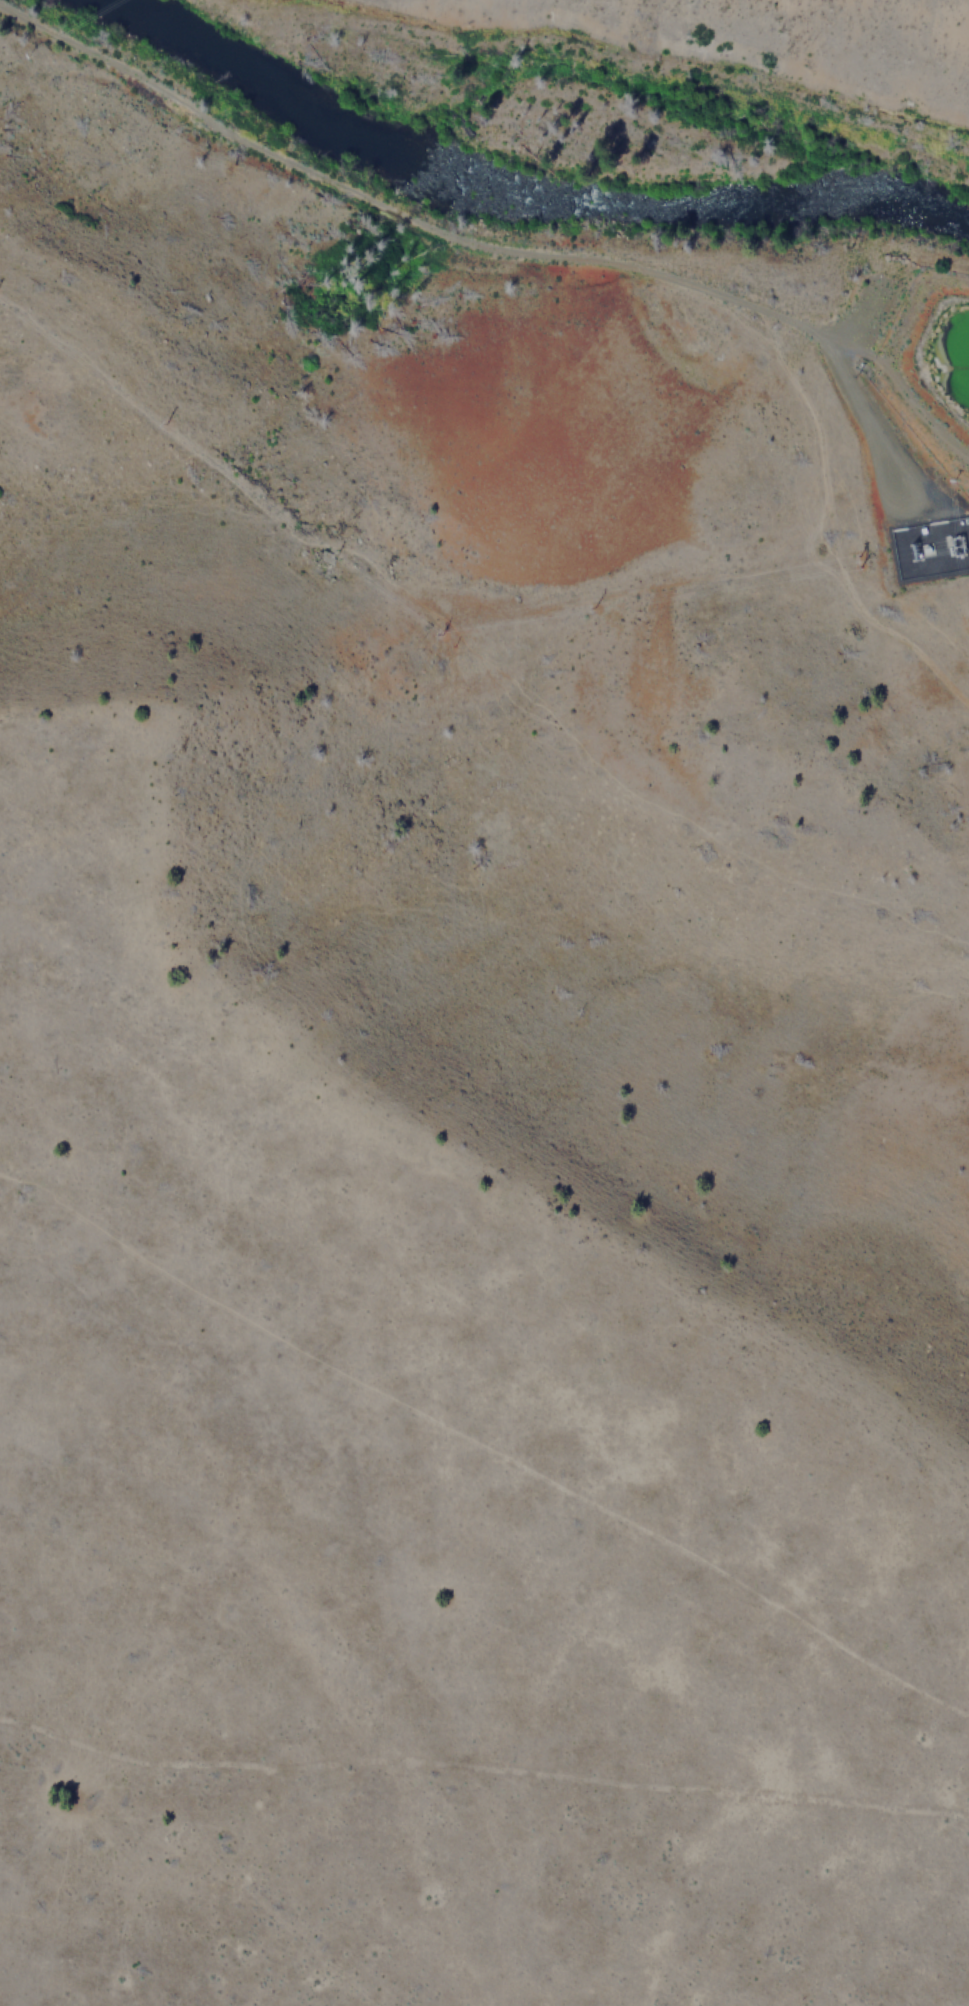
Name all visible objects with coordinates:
river: (516, 201)
road: (388, 212)
power substation: (931, 548)

